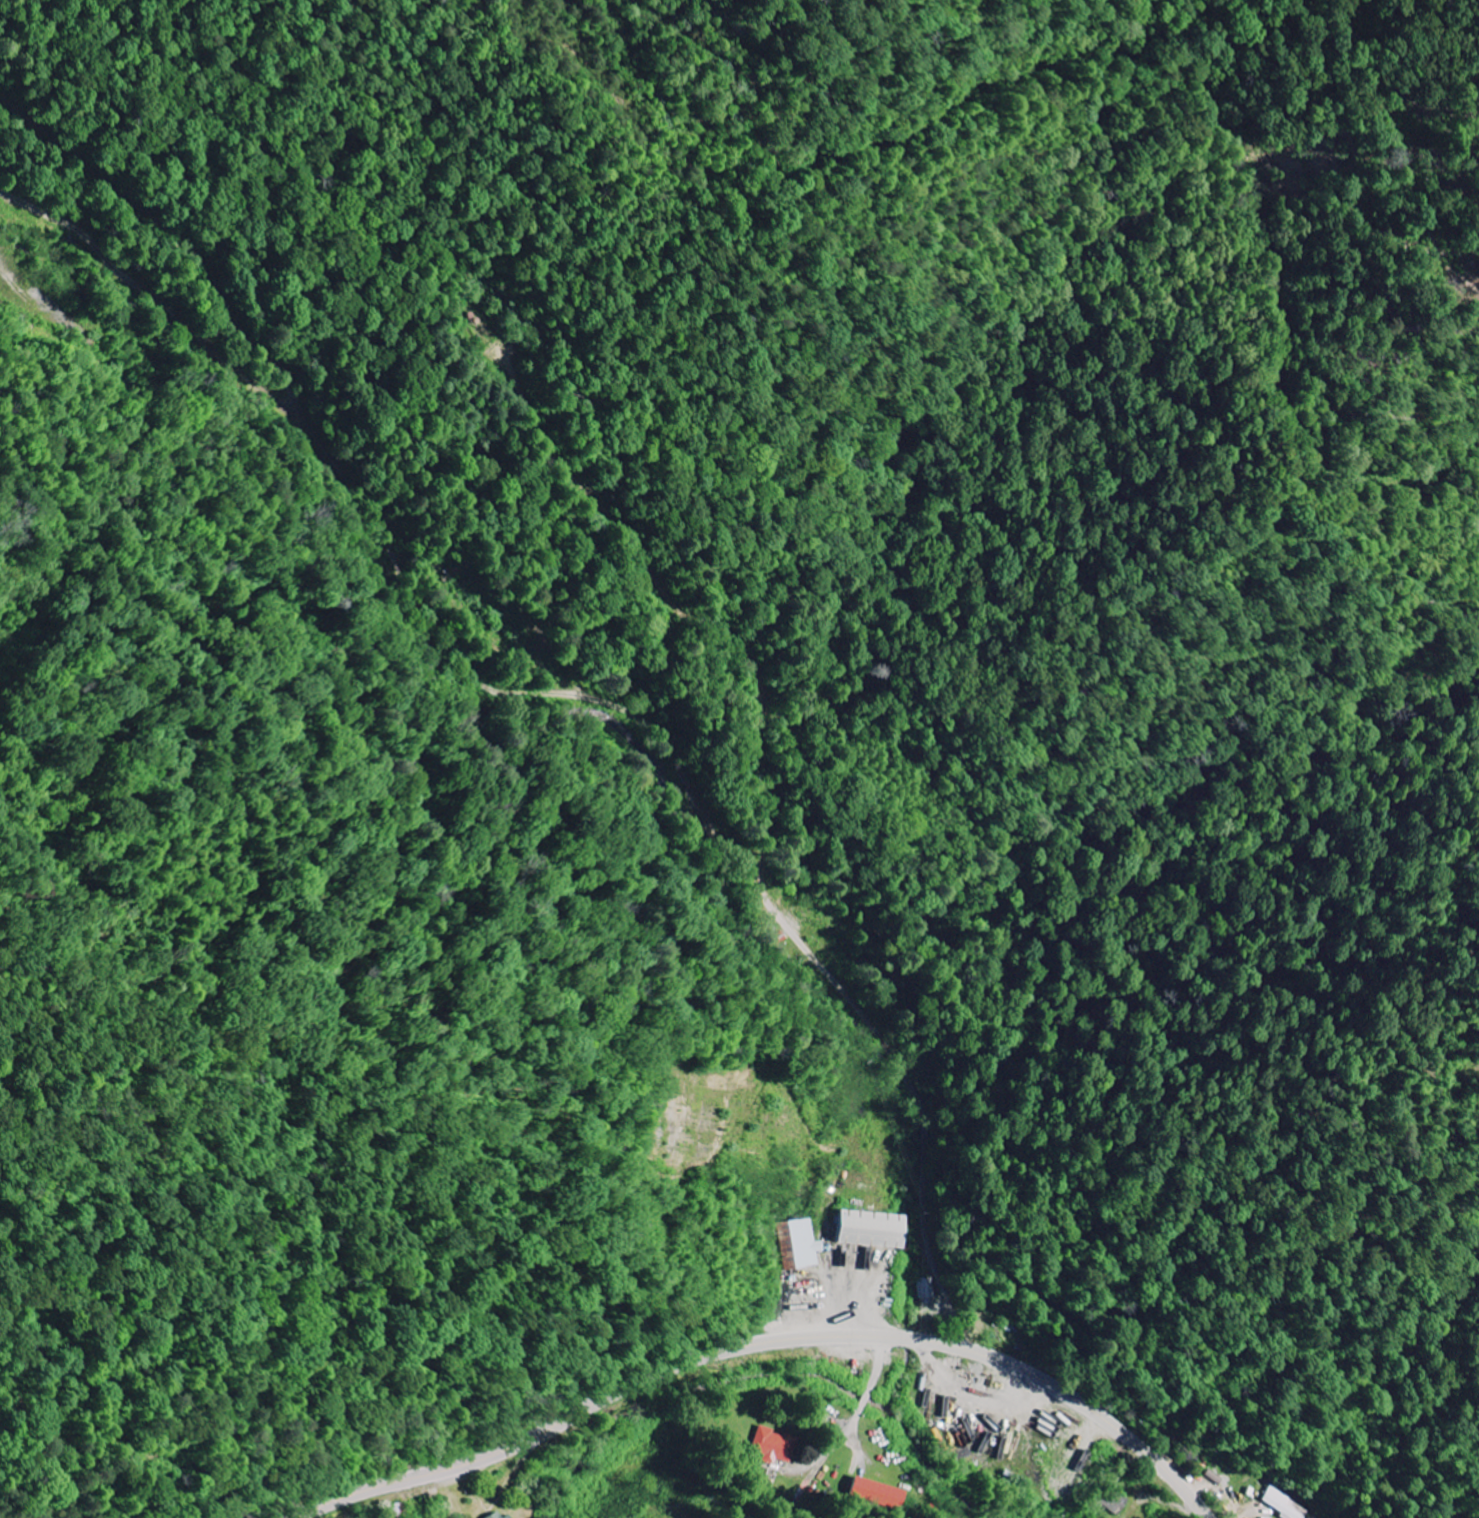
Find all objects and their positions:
road: (353, 484)
road: (750, 882)
building: (796, 1245)
road: (765, 1343)
road: (860, 1409)
building: (773, 1447)
building: (875, 1494)
building: (1284, 1505)
building: (506, 1516)

